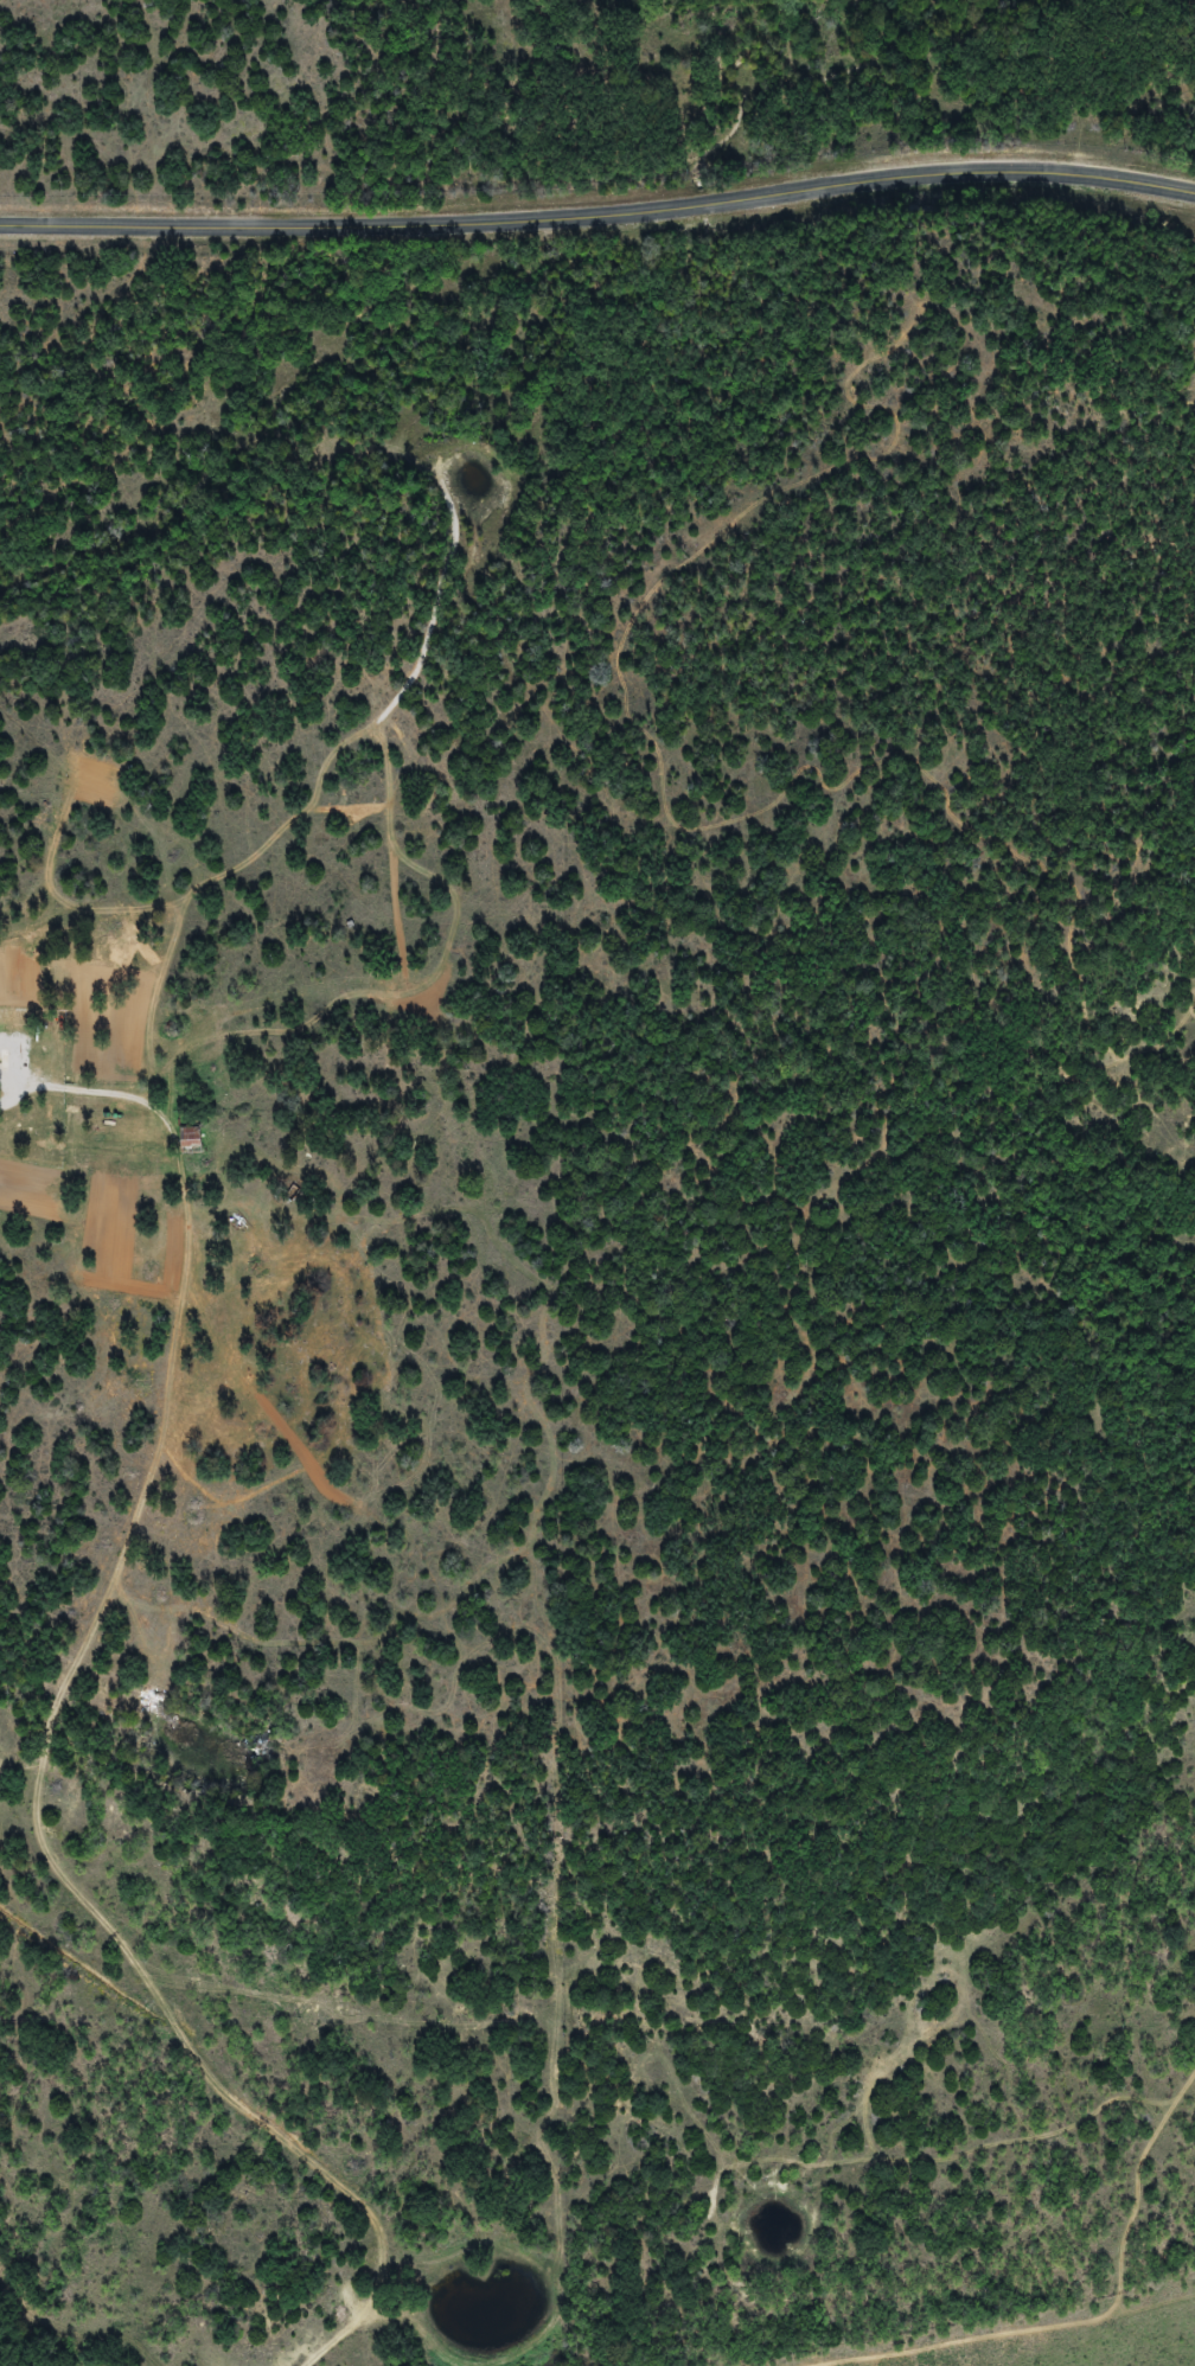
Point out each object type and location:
road: (599, 219)
building: (2, 1061)
building: (193, 1142)

